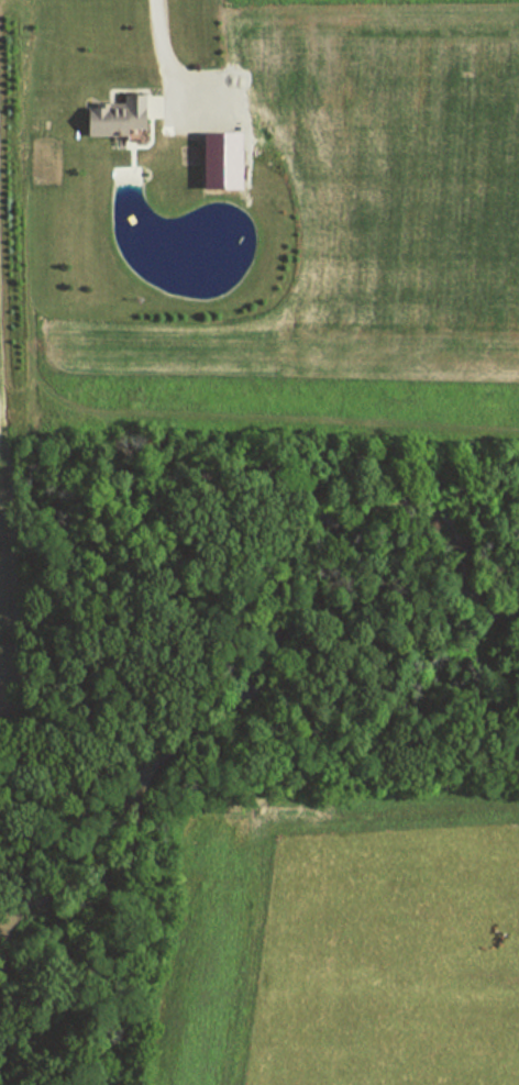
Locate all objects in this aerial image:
crop: (0, 8)
road: (159, 56)
building: (223, 160)
crop: (316, 268)
crop: (389, 960)

